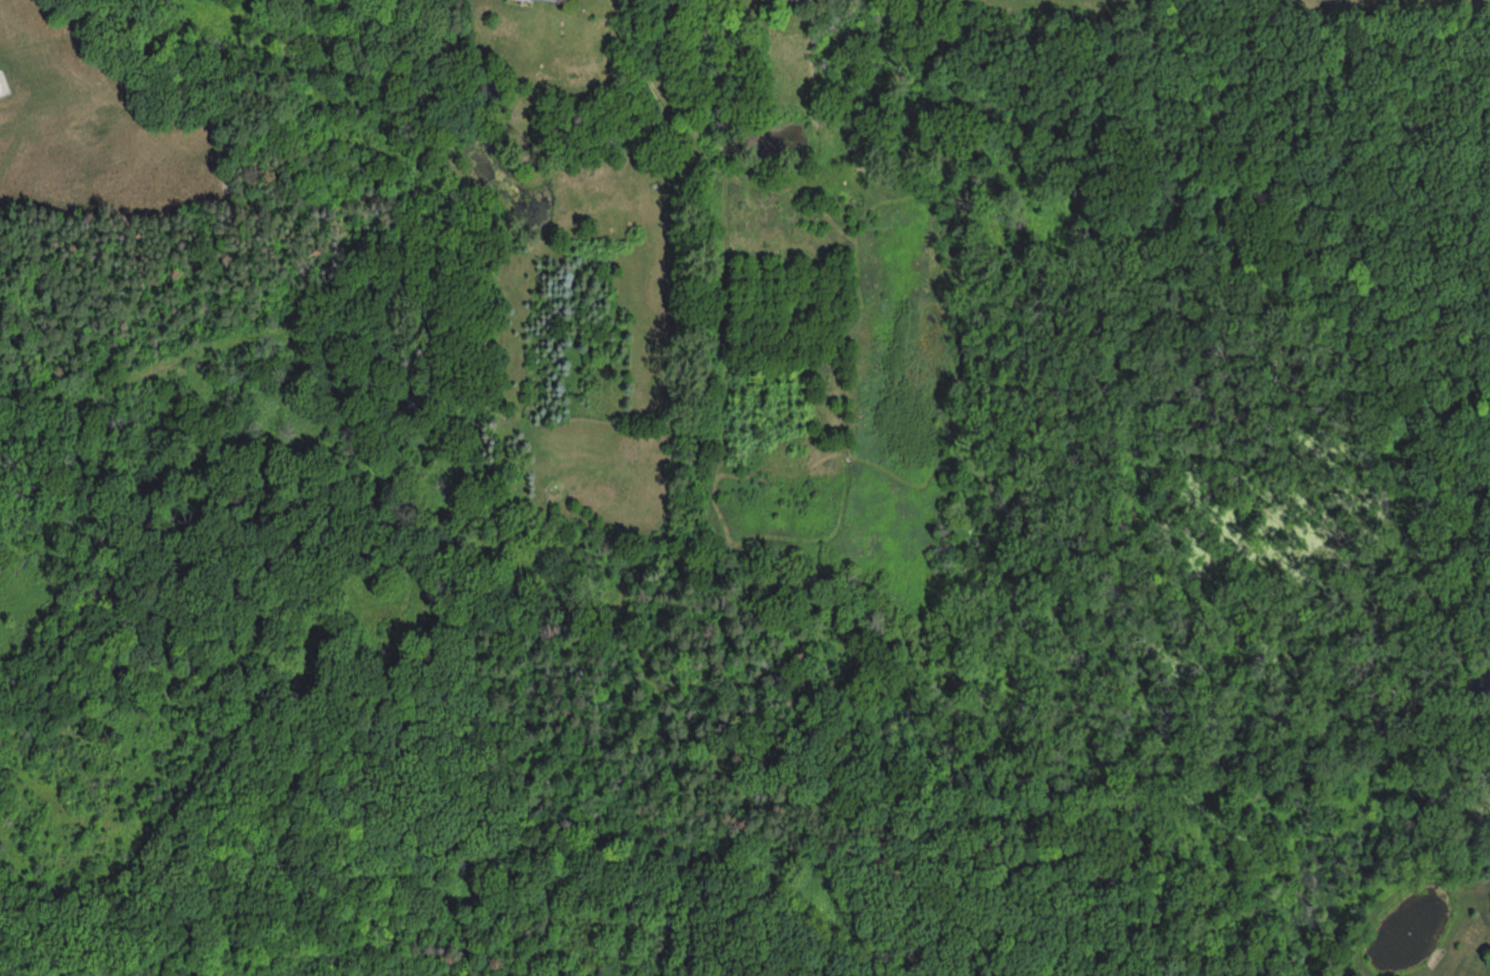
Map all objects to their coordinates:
building: (565, 0)
building: (571, 0)
road: (206, 346)
building: (414, 402)

